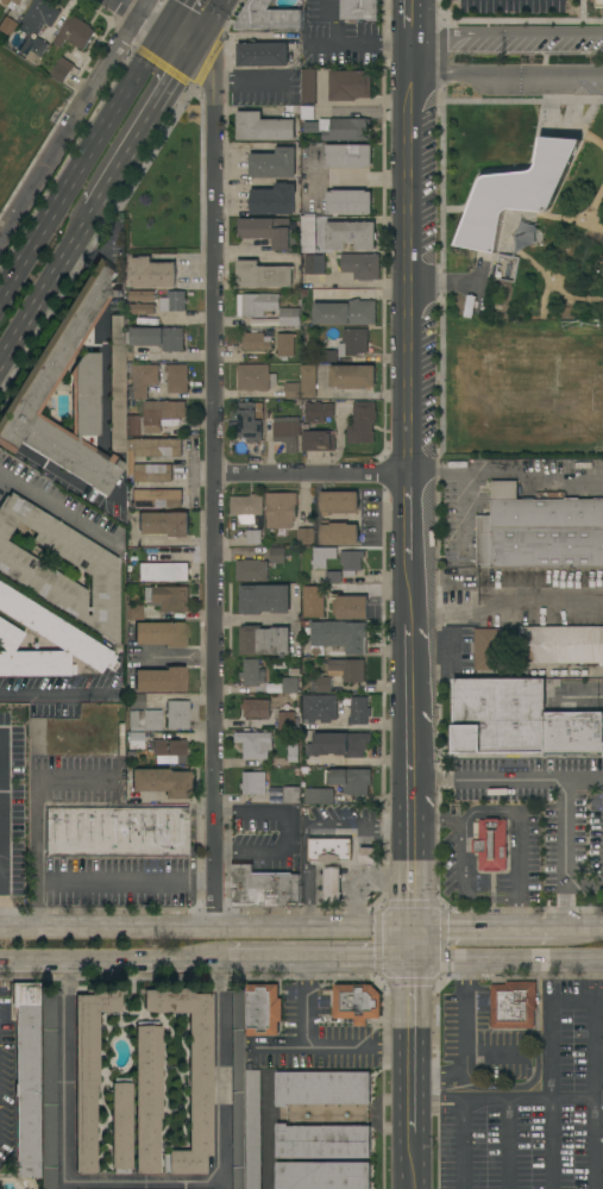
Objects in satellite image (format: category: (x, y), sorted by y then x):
building: (10, 2)
building: (601, 4)
building: (360, 10)
road: (171, 14)
road: (409, 15)
road: (580, 15)
building: (38, 17)
building: (268, 17)
road: (153, 24)
building: (6, 25)
road: (207, 25)
traffic signals: (163, 30)
building: (74, 32)
road: (505, 32)
road: (216, 43)
road: (362, 43)
traffic signals: (191, 50)
building: (36, 51)
road: (139, 51)
building: (263, 55)
parking lot: (519, 60)
road: (297, 61)
building: (62, 69)
road: (505, 75)
road: (246, 79)
building: (350, 85)
building: (308, 86)
building: (307, 112)
road: (586, 114)
park: (23, 115)
road: (73, 117)
road: (557, 124)
building: (310, 126)
building: (263, 127)
road: (139, 129)
building: (344, 129)
road: (577, 129)
building: (348, 156)
road: (81, 159)
building: (274, 163)
road: (508, 168)
road: (441, 193)
building: (516, 193)
building: (274, 200)
building: (348, 201)
road: (593, 204)
building: (266, 231)
building: (308, 234)
building: (350, 234)
road: (107, 238)
road: (502, 242)
road: (251, 250)
road: (494, 255)
building: (314, 264)
building: (360, 265)
building: (505, 267)
building: (152, 273)
building: (263, 275)
park: (517, 276)
road: (44, 282)
road: (113, 282)
road: (442, 282)
road: (477, 284)
building: (142, 295)
road: (542, 296)
building: (174, 302)
building: (256, 303)
building: (140, 308)
building: (345, 313)
building: (289, 317)
building: (147, 321)
building: (270, 321)
road: (408, 327)
building: (157, 337)
building: (256, 342)
building: (347, 344)
building: (285, 345)
road: (101, 370)
building: (352, 376)
building: (177, 377)
building: (255, 377)
building: (143, 380)
building: (308, 382)
building: (117, 383)
building: (291, 390)
building: (29, 395)
park: (551, 405)
building: (318, 412)
building: (161, 413)
building: (250, 421)
building: (362, 424)
building: (131, 425)
building: (287, 432)
building: (318, 440)
building: (153, 448)
road: (507, 469)
building: (151, 473)
road: (309, 474)
road: (211, 486)
building: (156, 497)
building: (339, 502)
road: (54, 506)
building: (246, 507)
building: (281, 509)
building: (304, 511)
road: (461, 511)
building: (163, 524)
building: (539, 531)
building: (339, 534)
building: (253, 537)
building: (306, 537)
building: (278, 555)
building: (322, 556)
building: (351, 562)
building: (94, 565)
building: (252, 570)
building: (162, 571)
building: (333, 577)
building: (165, 597)
building: (264, 599)
building: (313, 601)
building: (350, 607)
building: (133, 612)
road: (540, 612)
road: (444, 613)
road: (247, 620)
building: (304, 622)
building: (46, 626)
building: (159, 633)
building: (338, 637)
building: (264, 640)
building: (561, 644)
building: (488, 649)
building: (348, 669)
building: (252, 674)
building: (159, 680)
building: (322, 684)
building: (289, 686)
building: (313, 686)
road: (49, 692)
road: (586, 695)
building: (319, 707)
building: (255, 708)
building: (358, 711)
building: (142, 714)
building: (176, 714)
road: (409, 718)
building: (519, 719)
building: (285, 720)
building: (13, 725)
building: (119, 739)
building: (133, 739)
building: (339, 744)
building: (255, 745)
building: (168, 752)
building: (293, 752)
building: (314, 761)
building: (277, 763)
road: (584, 777)
road: (561, 778)
building: (350, 780)
building: (161, 782)
building: (253, 783)
building: (274, 794)
building: (291, 795)
building: (318, 795)
road: (250, 811)
road: (303, 825)
road: (289, 830)
building: (115, 832)
road: (6, 838)
road: (517, 839)
building: (490, 844)
road: (249, 849)
building: (331, 849)
building: (368, 856)
road: (460, 859)
road: (350, 866)
road: (409, 870)
road: (34, 876)
road: (4, 878)
road: (383, 881)
building: (332, 884)
building: (263, 888)
road: (357, 897)
road: (34, 905)
road: (578, 927)
road: (205, 928)
traffic signals: (409, 928)
road: (480, 928)
road: (409, 945)
road: (99, 962)
road: (501, 962)
road: (598, 962)
road: (303, 963)
traffic signals: (409, 963)
road: (593, 982)
building: (356, 1002)
road: (409, 1003)
building: (513, 1005)
building: (263, 1009)
road: (551, 1024)
road: (466, 1043)
road: (315, 1046)
road: (281, 1047)
road: (593, 1050)
road: (494, 1053)
road: (410, 1062)
road: (65, 1070)
building: (87, 1070)
road: (221, 1070)
building: (190, 1074)
building: (25, 1077)
parking lot: (520, 1084)
building: (48, 1088)
building: (322, 1088)
building: (237, 1089)
road: (410, 1090)
road: (551, 1093)
building: (147, 1095)
road: (505, 1099)
road: (572, 1099)
road: (435, 1102)
road: (410, 1118)
building: (120, 1126)
building: (253, 1129)
building: (322, 1141)
road: (508, 1144)
road: (551, 1144)
road: (593, 1144)
road: (461, 1145)
road: (410, 1160)
building: (324, 1175)
road: (142, 1182)

